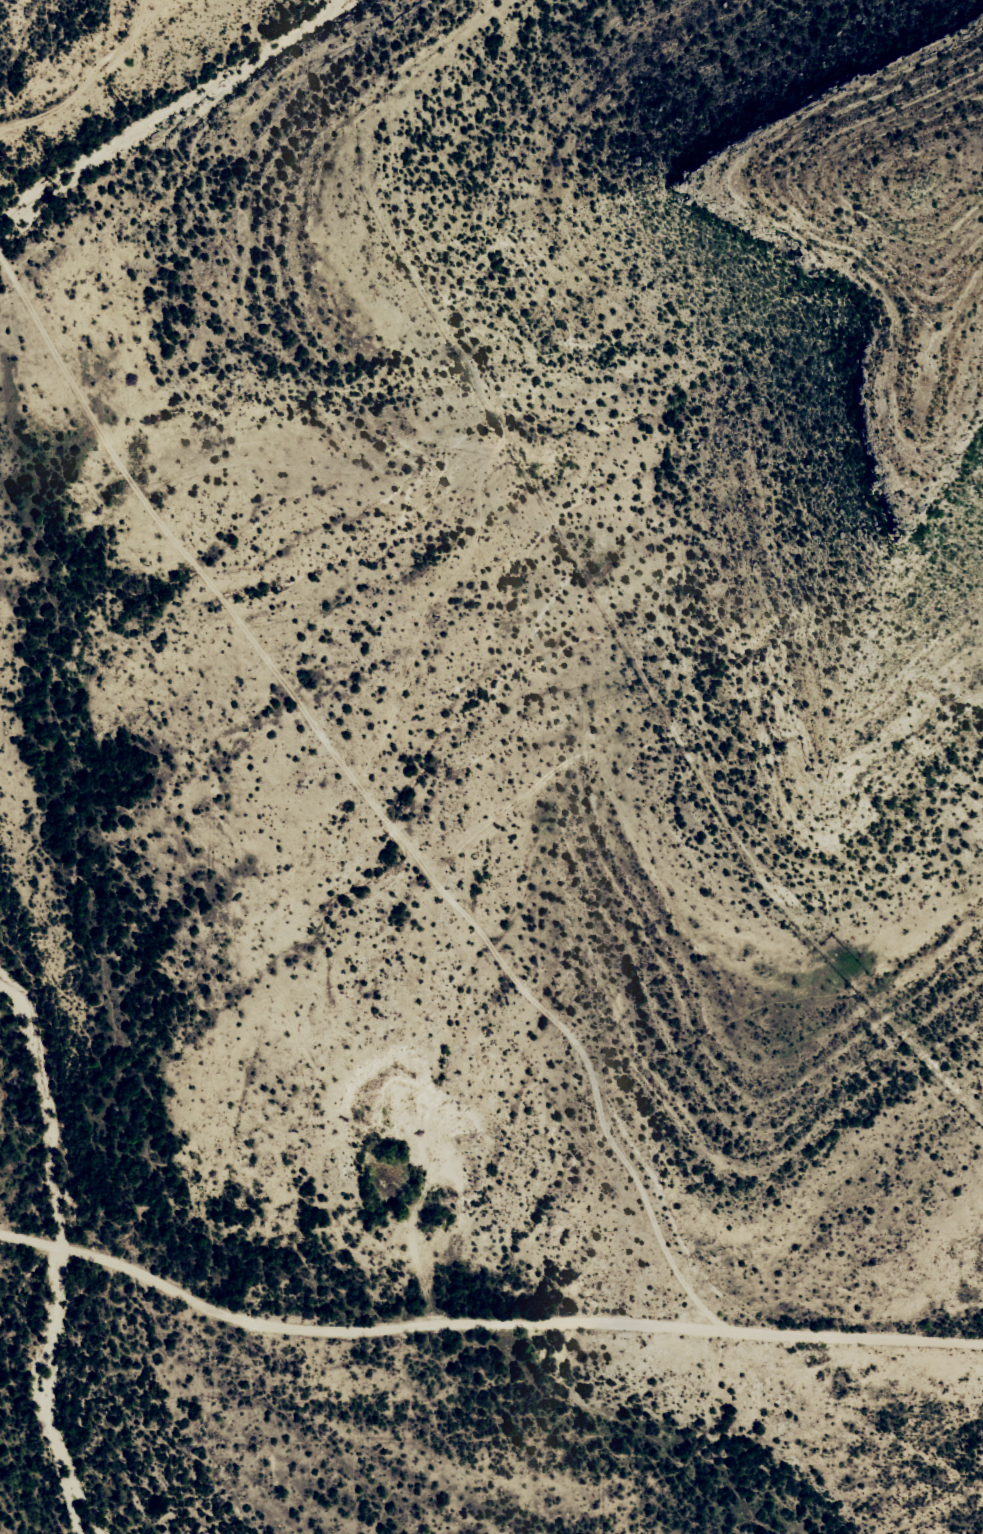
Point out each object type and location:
road: (102, 70)
road: (361, 802)
road: (484, 1343)

